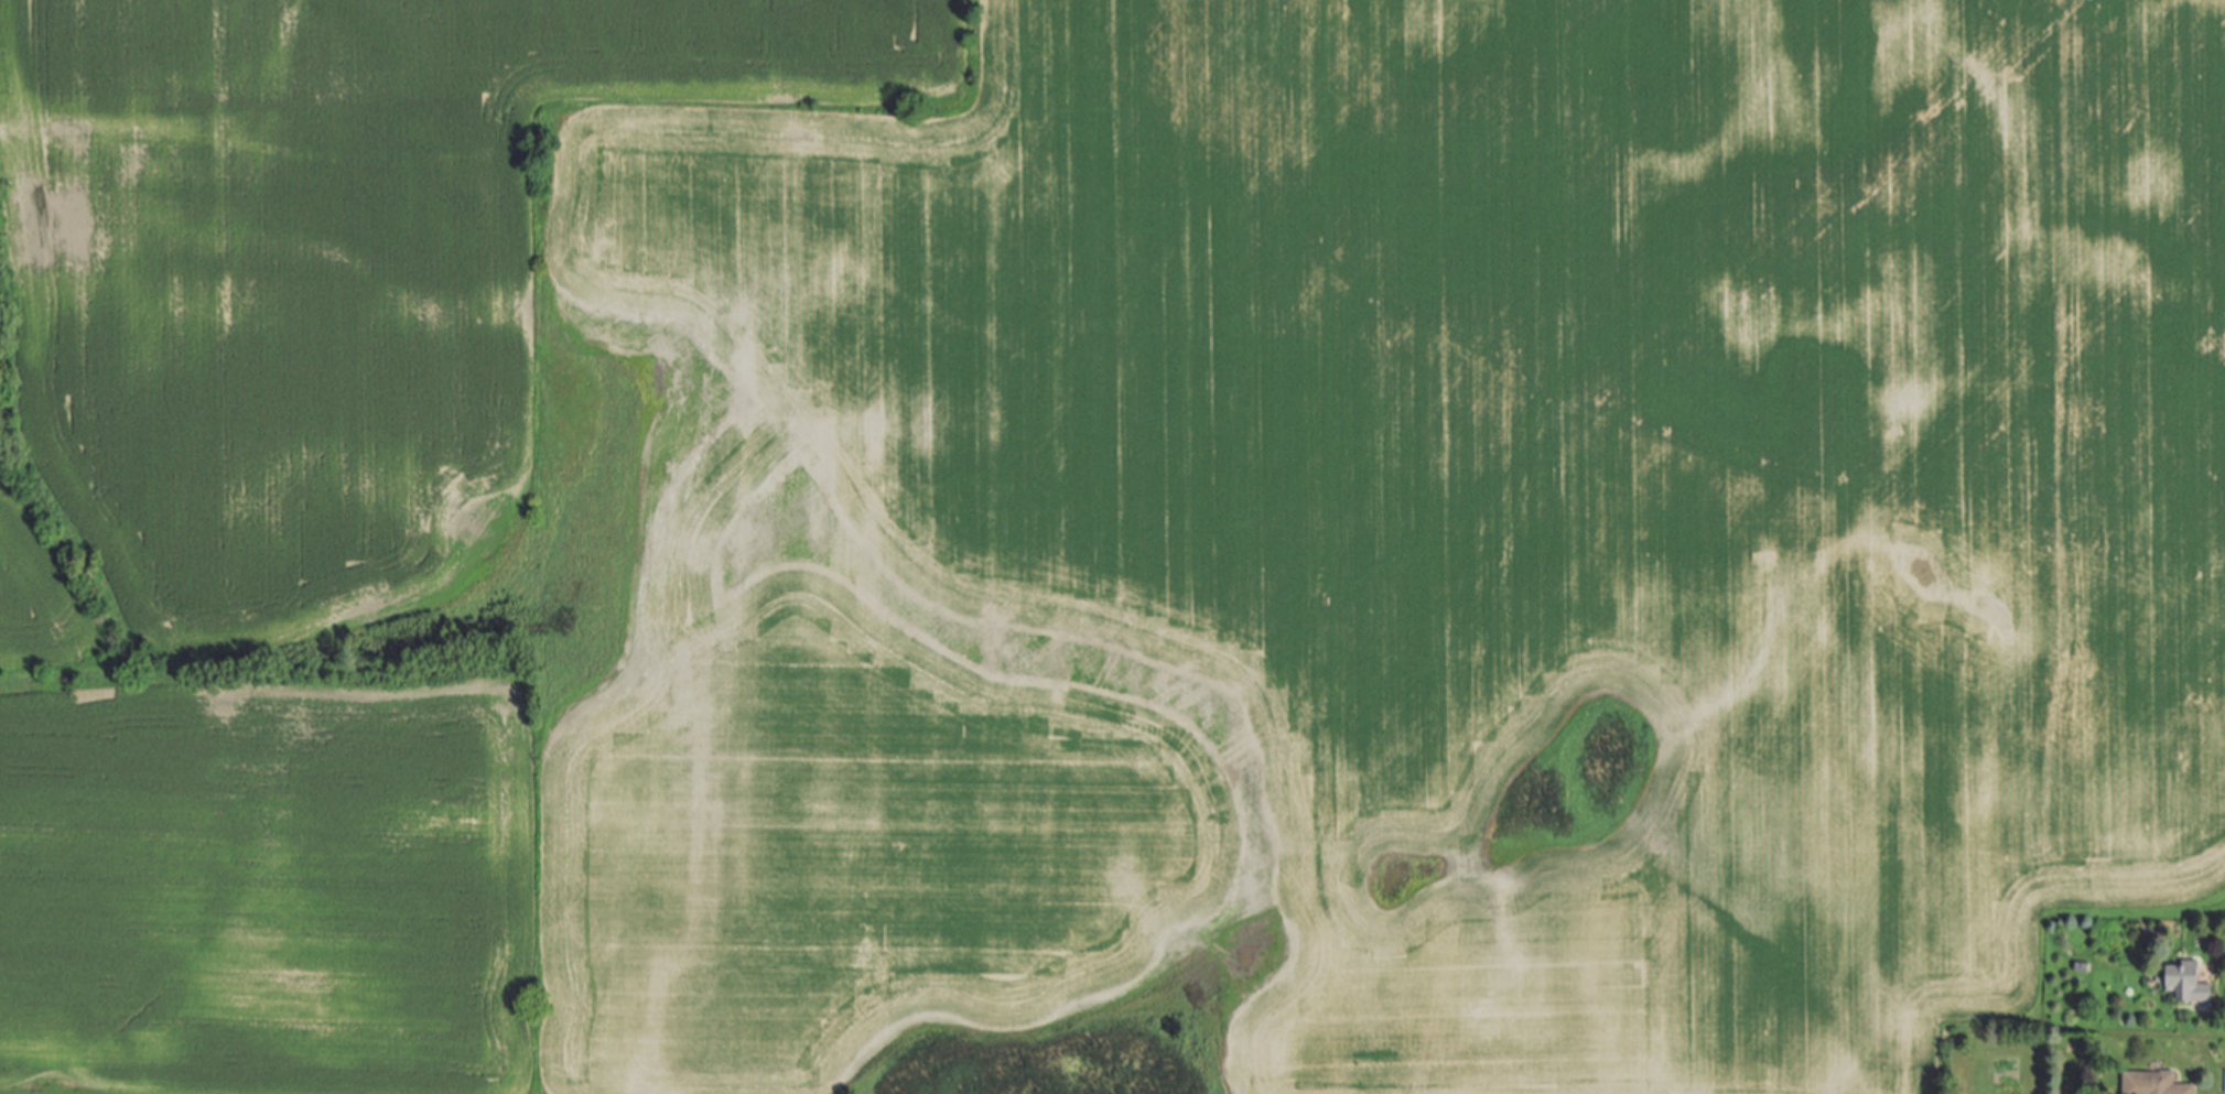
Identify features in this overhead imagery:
building: (2224, 1084)

